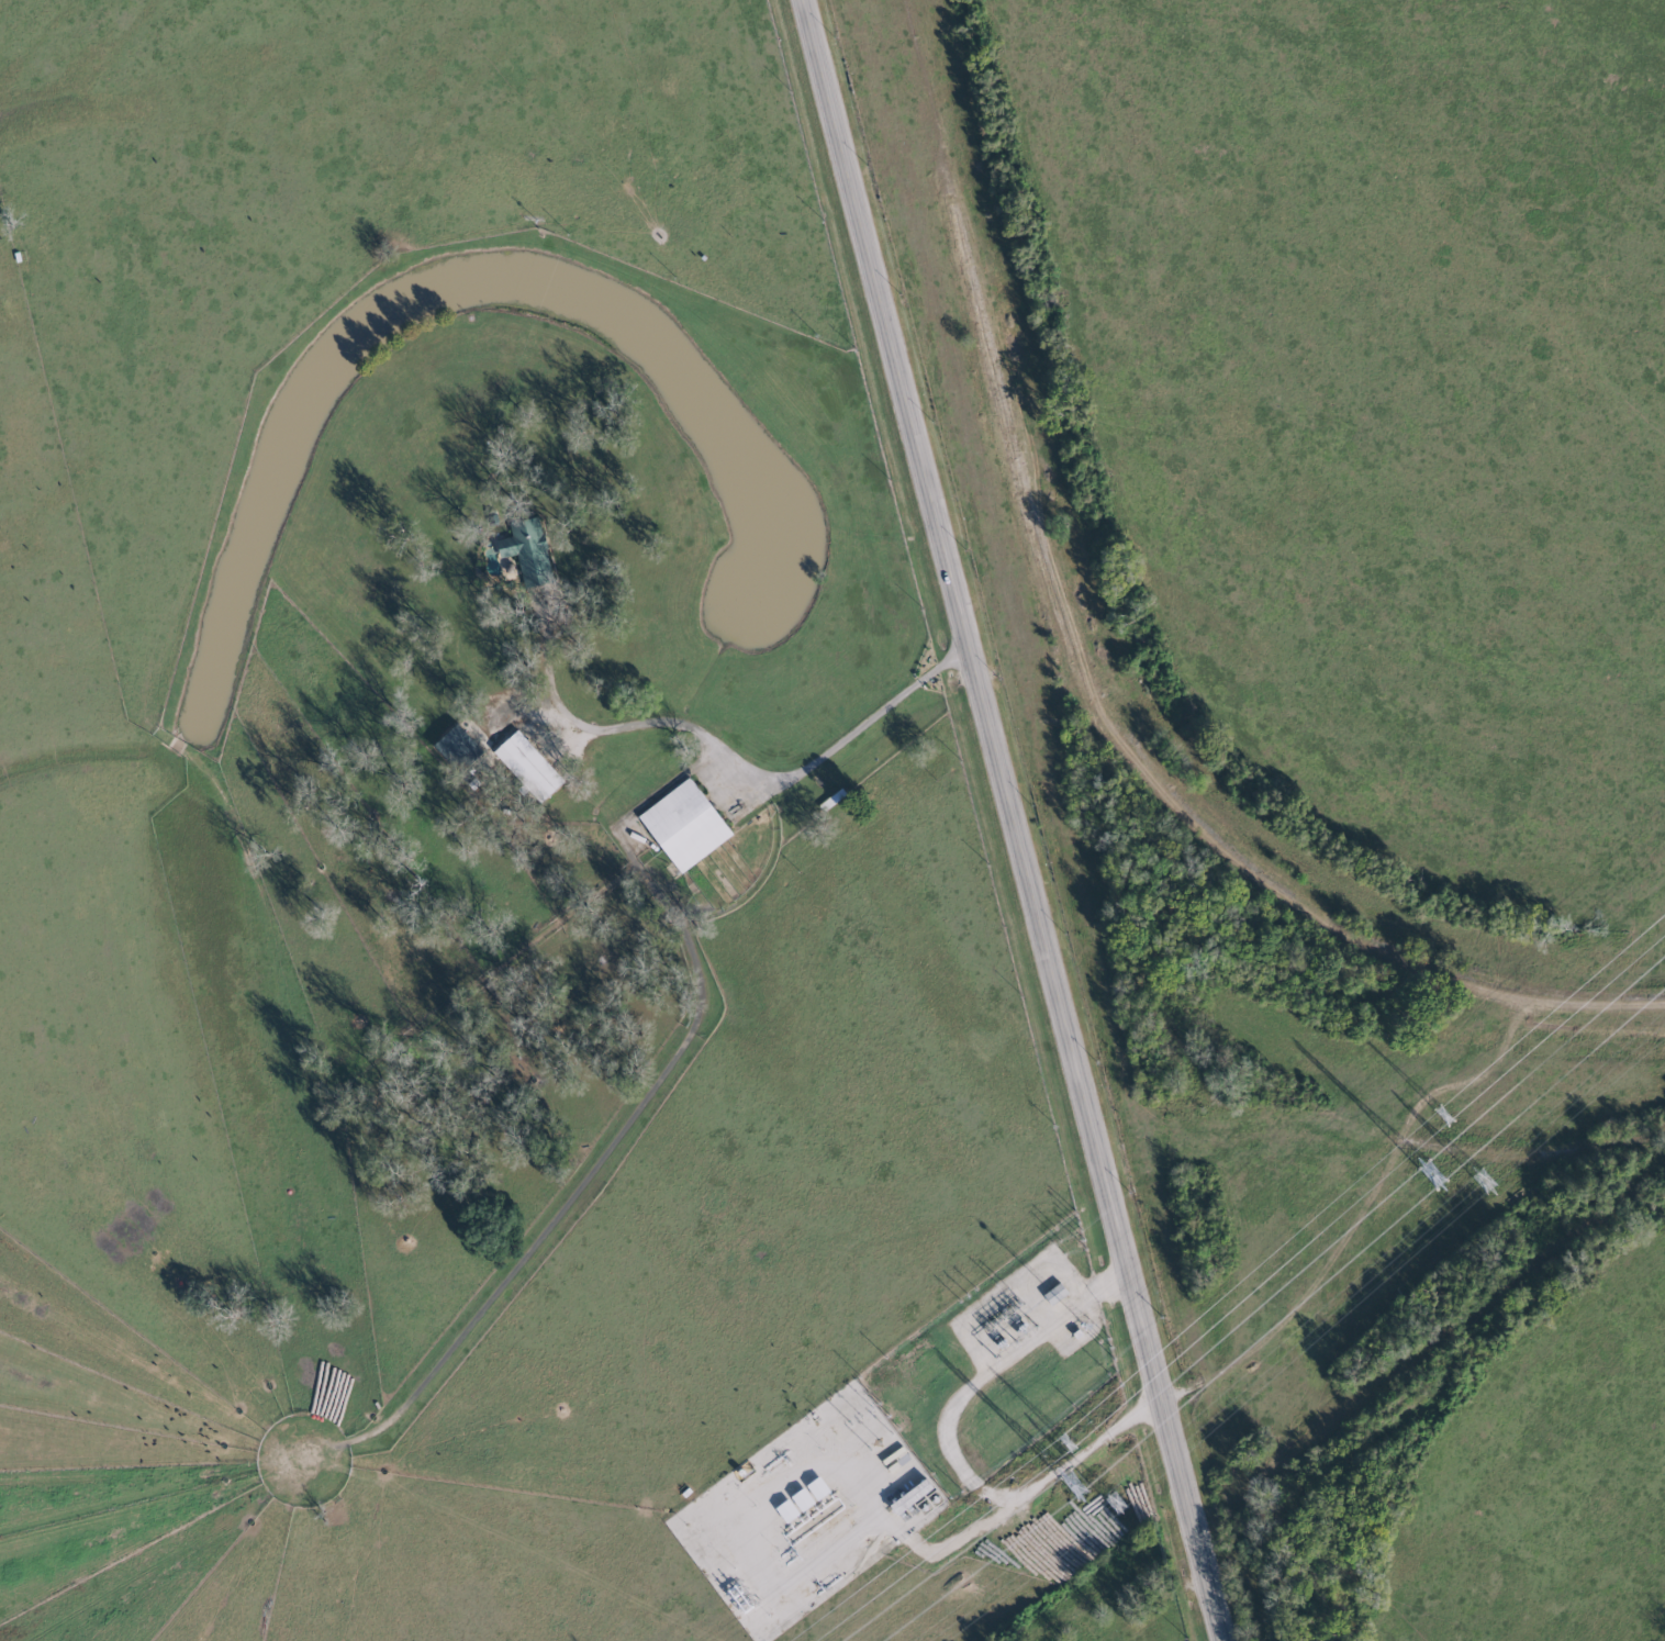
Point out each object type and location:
railway: (1083, 680)
building: (455, 745)
road: (741, 769)
road: (1002, 819)
railway: (1051, 820)
building: (685, 824)
power tower: (1439, 1117)
power tower: (1430, 1176)
power tower: (1485, 1181)
power substation: (995, 1364)
railway: (1360, 1405)
road: (950, 1444)
power tower: (1065, 1444)
power tower: (1075, 1485)
building: (913, 1497)
power tower: (1114, 1504)

